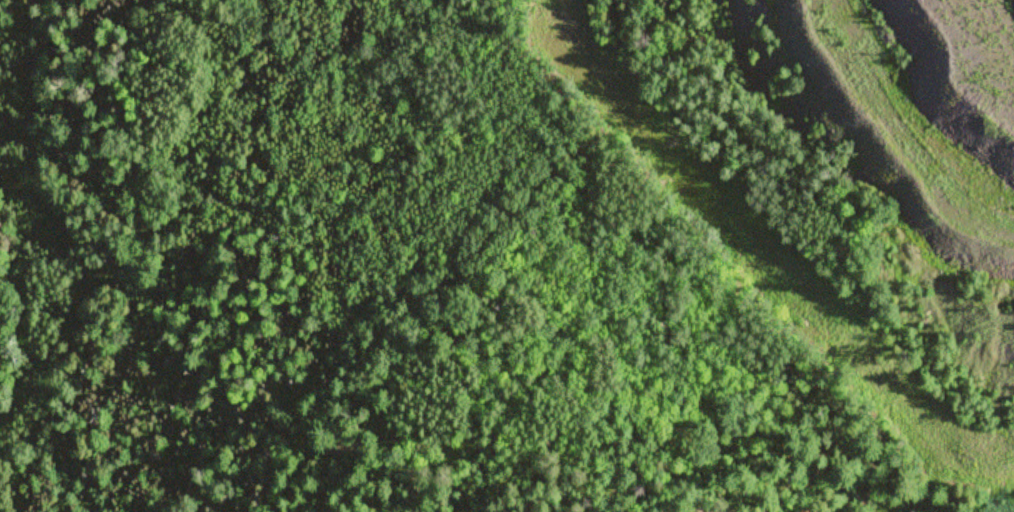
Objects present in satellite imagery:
quarry: (906, 115)

